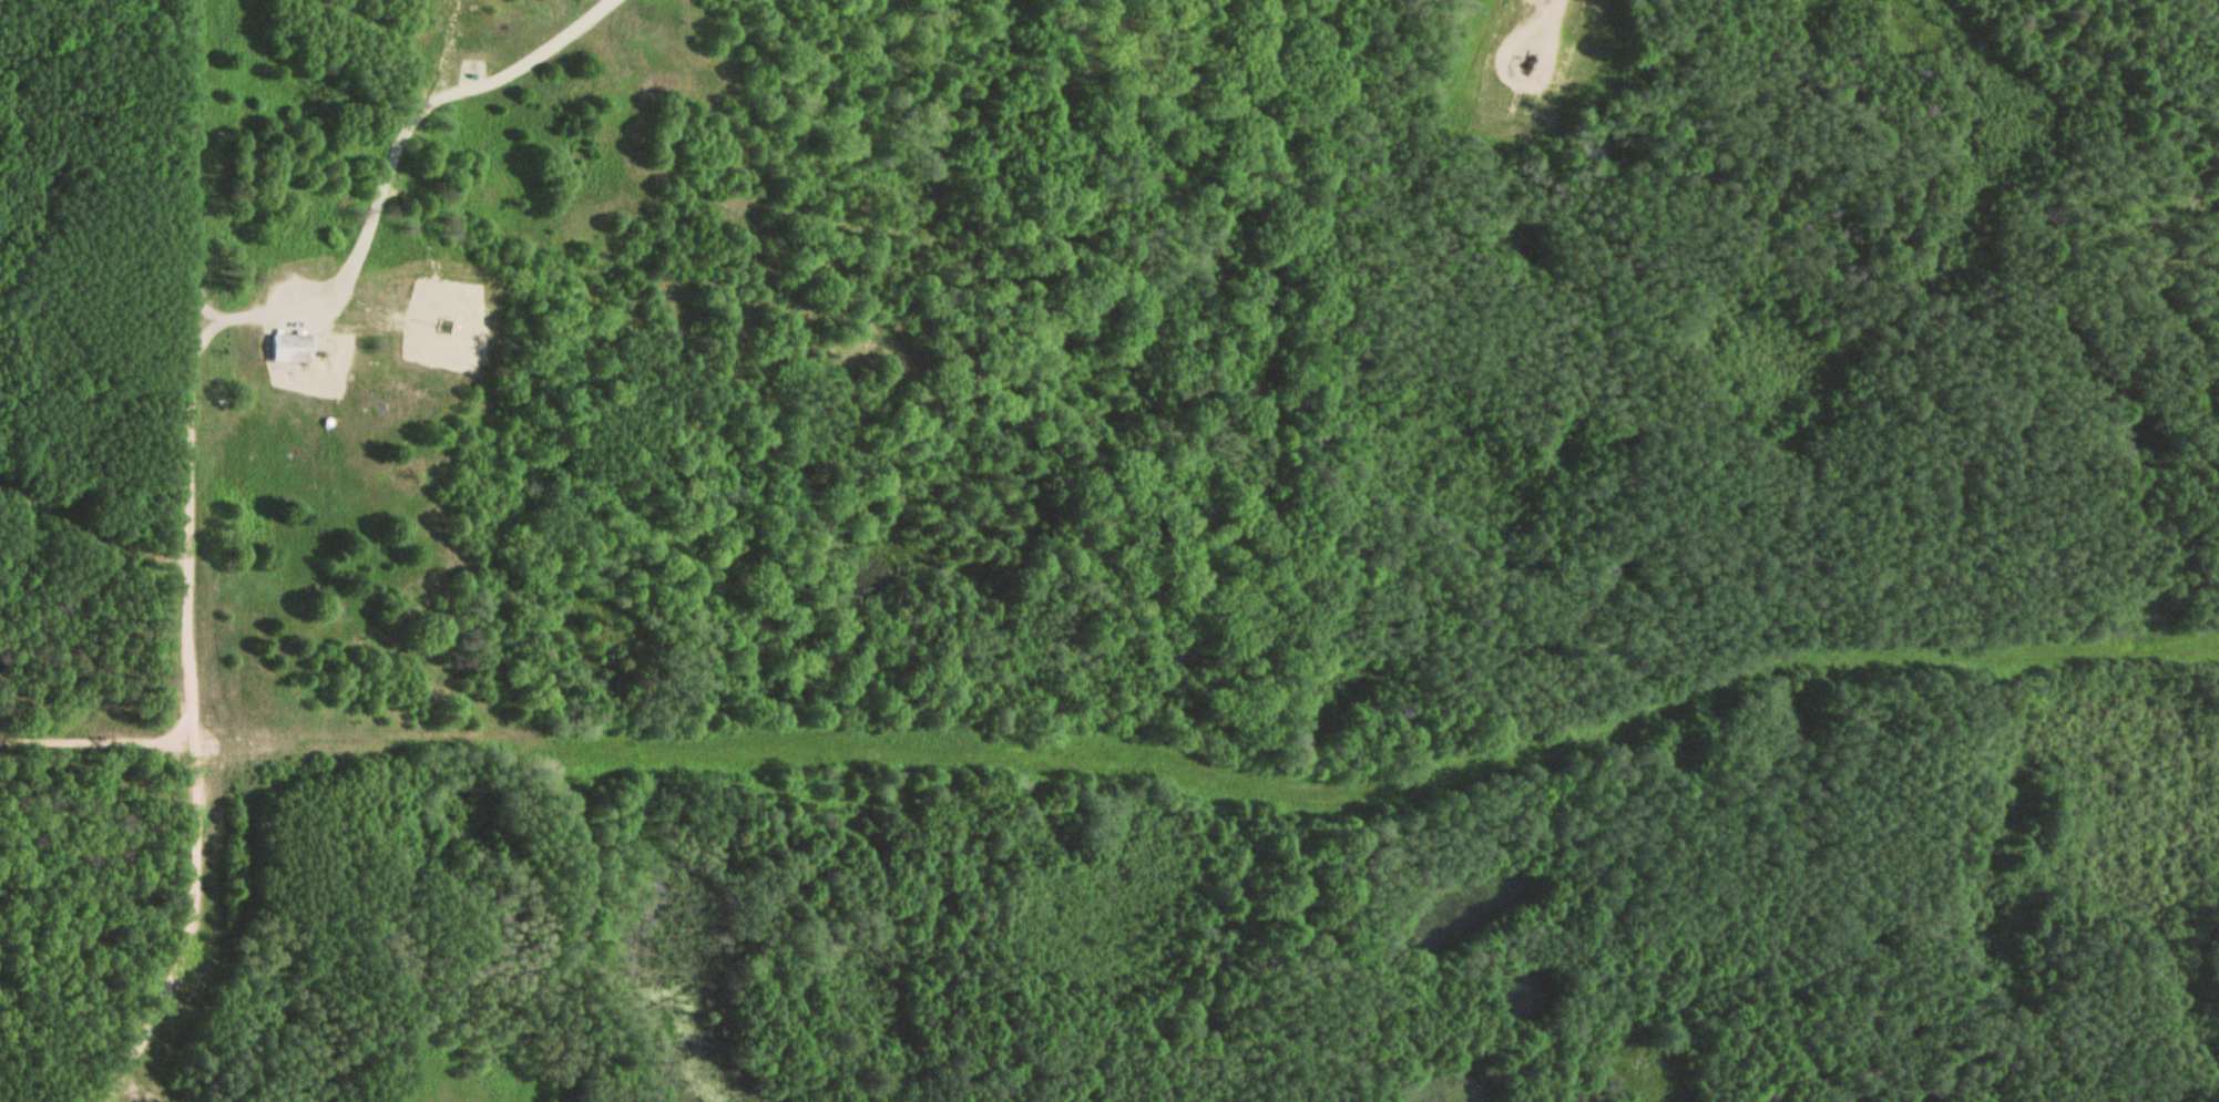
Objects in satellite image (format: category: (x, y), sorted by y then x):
petroleum well: (1510, 58)
road: (520, 70)
road: (395, 166)
building: (290, 349)
road: (91, 537)
road: (194, 560)
road: (96, 743)
road: (135, 1092)

